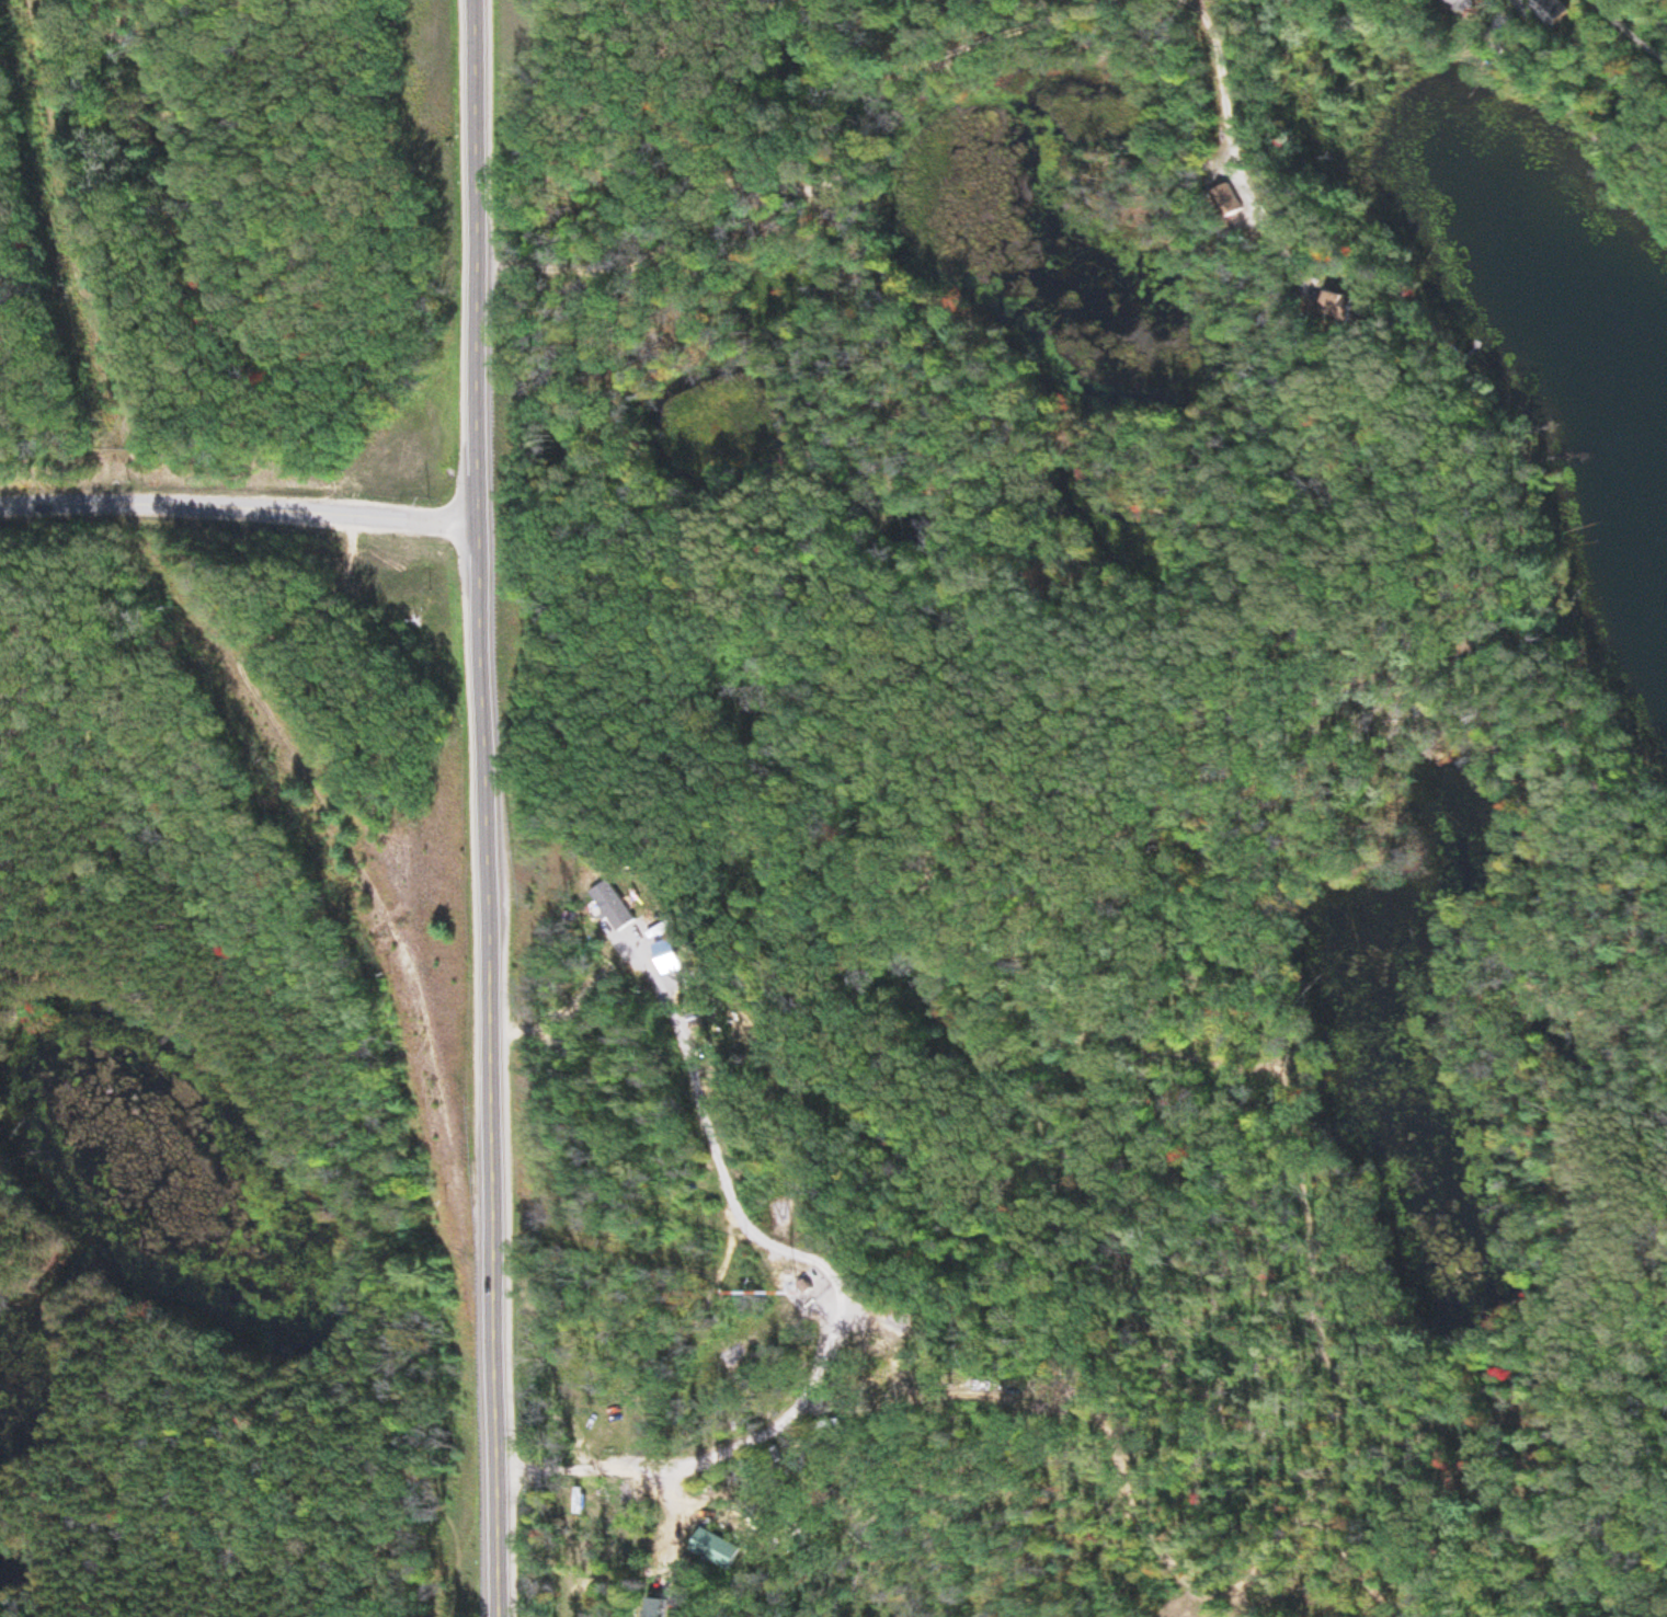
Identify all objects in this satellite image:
building: (1461, 4)
building: (1548, 12)
road: (1465, 18)
road: (726, 162)
building: (1228, 203)
building: (1334, 307)
road: (235, 514)
road: (480, 808)
building: (612, 907)
building: (802, 1288)
road: (715, 1443)
building: (710, 1549)
building: (651, 1608)

